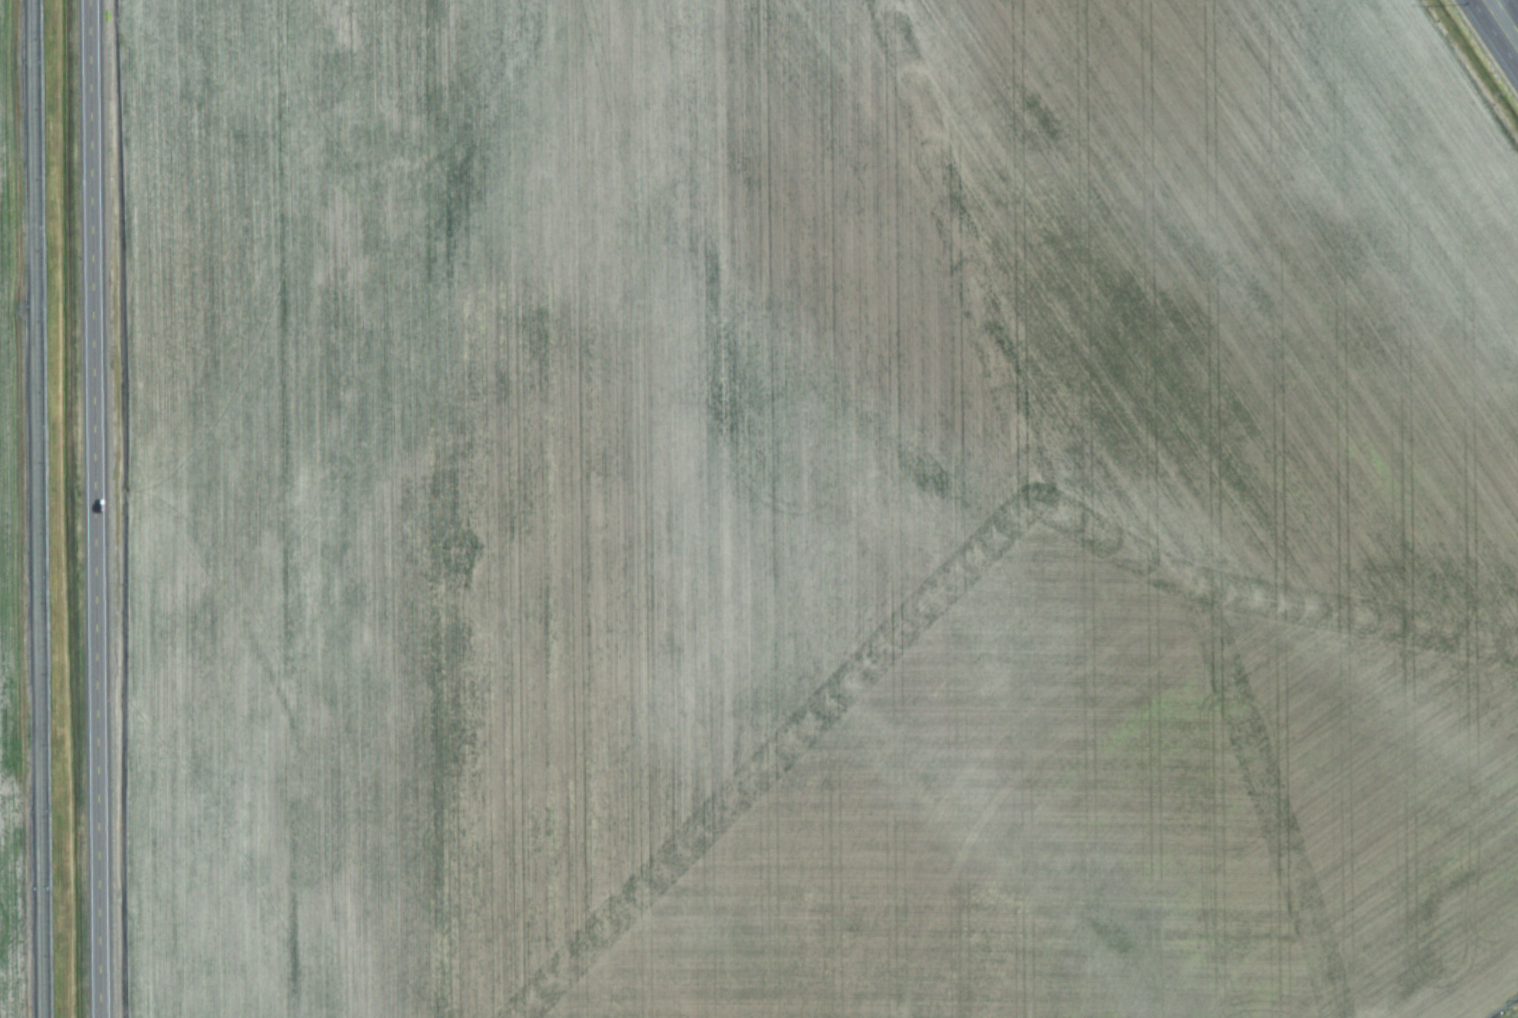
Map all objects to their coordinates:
road: (1502, 23)
road: (38, 508)
road: (92, 509)
airport: (225, 510)
crop: (802, 510)
crop: (16, 538)

